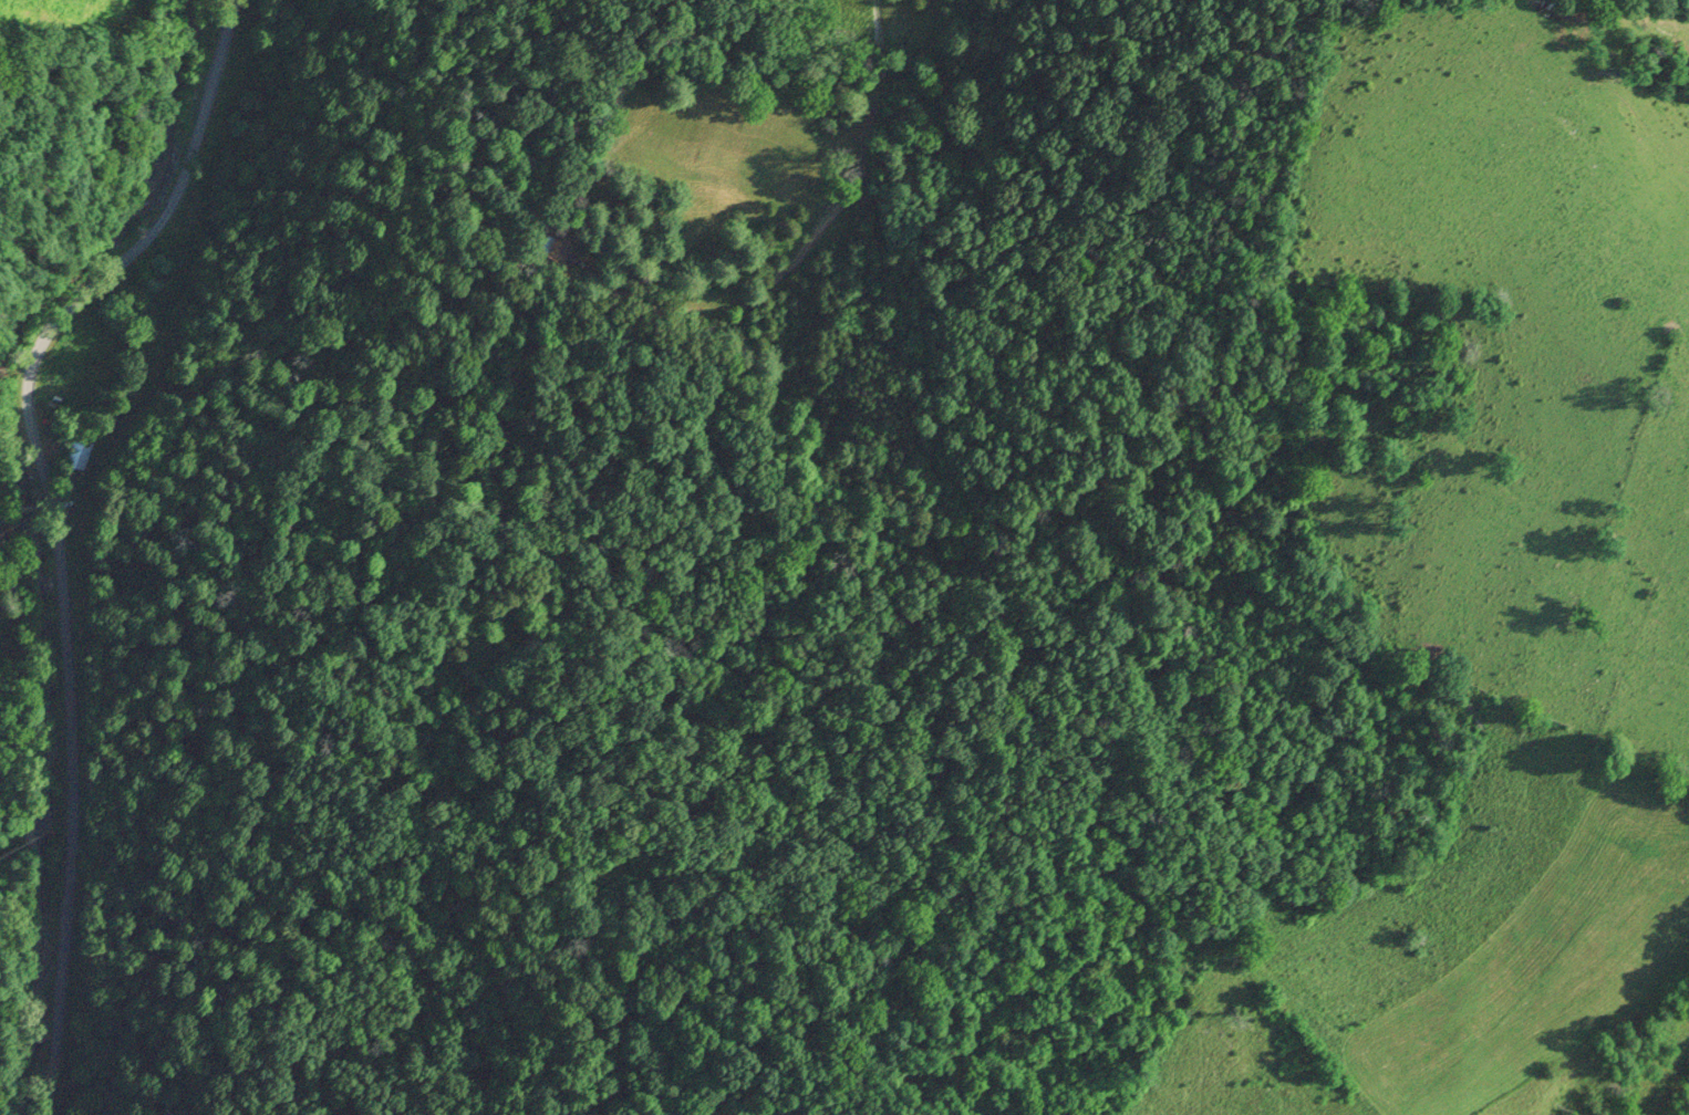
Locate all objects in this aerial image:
road: (53, 524)
building: (2, 534)

